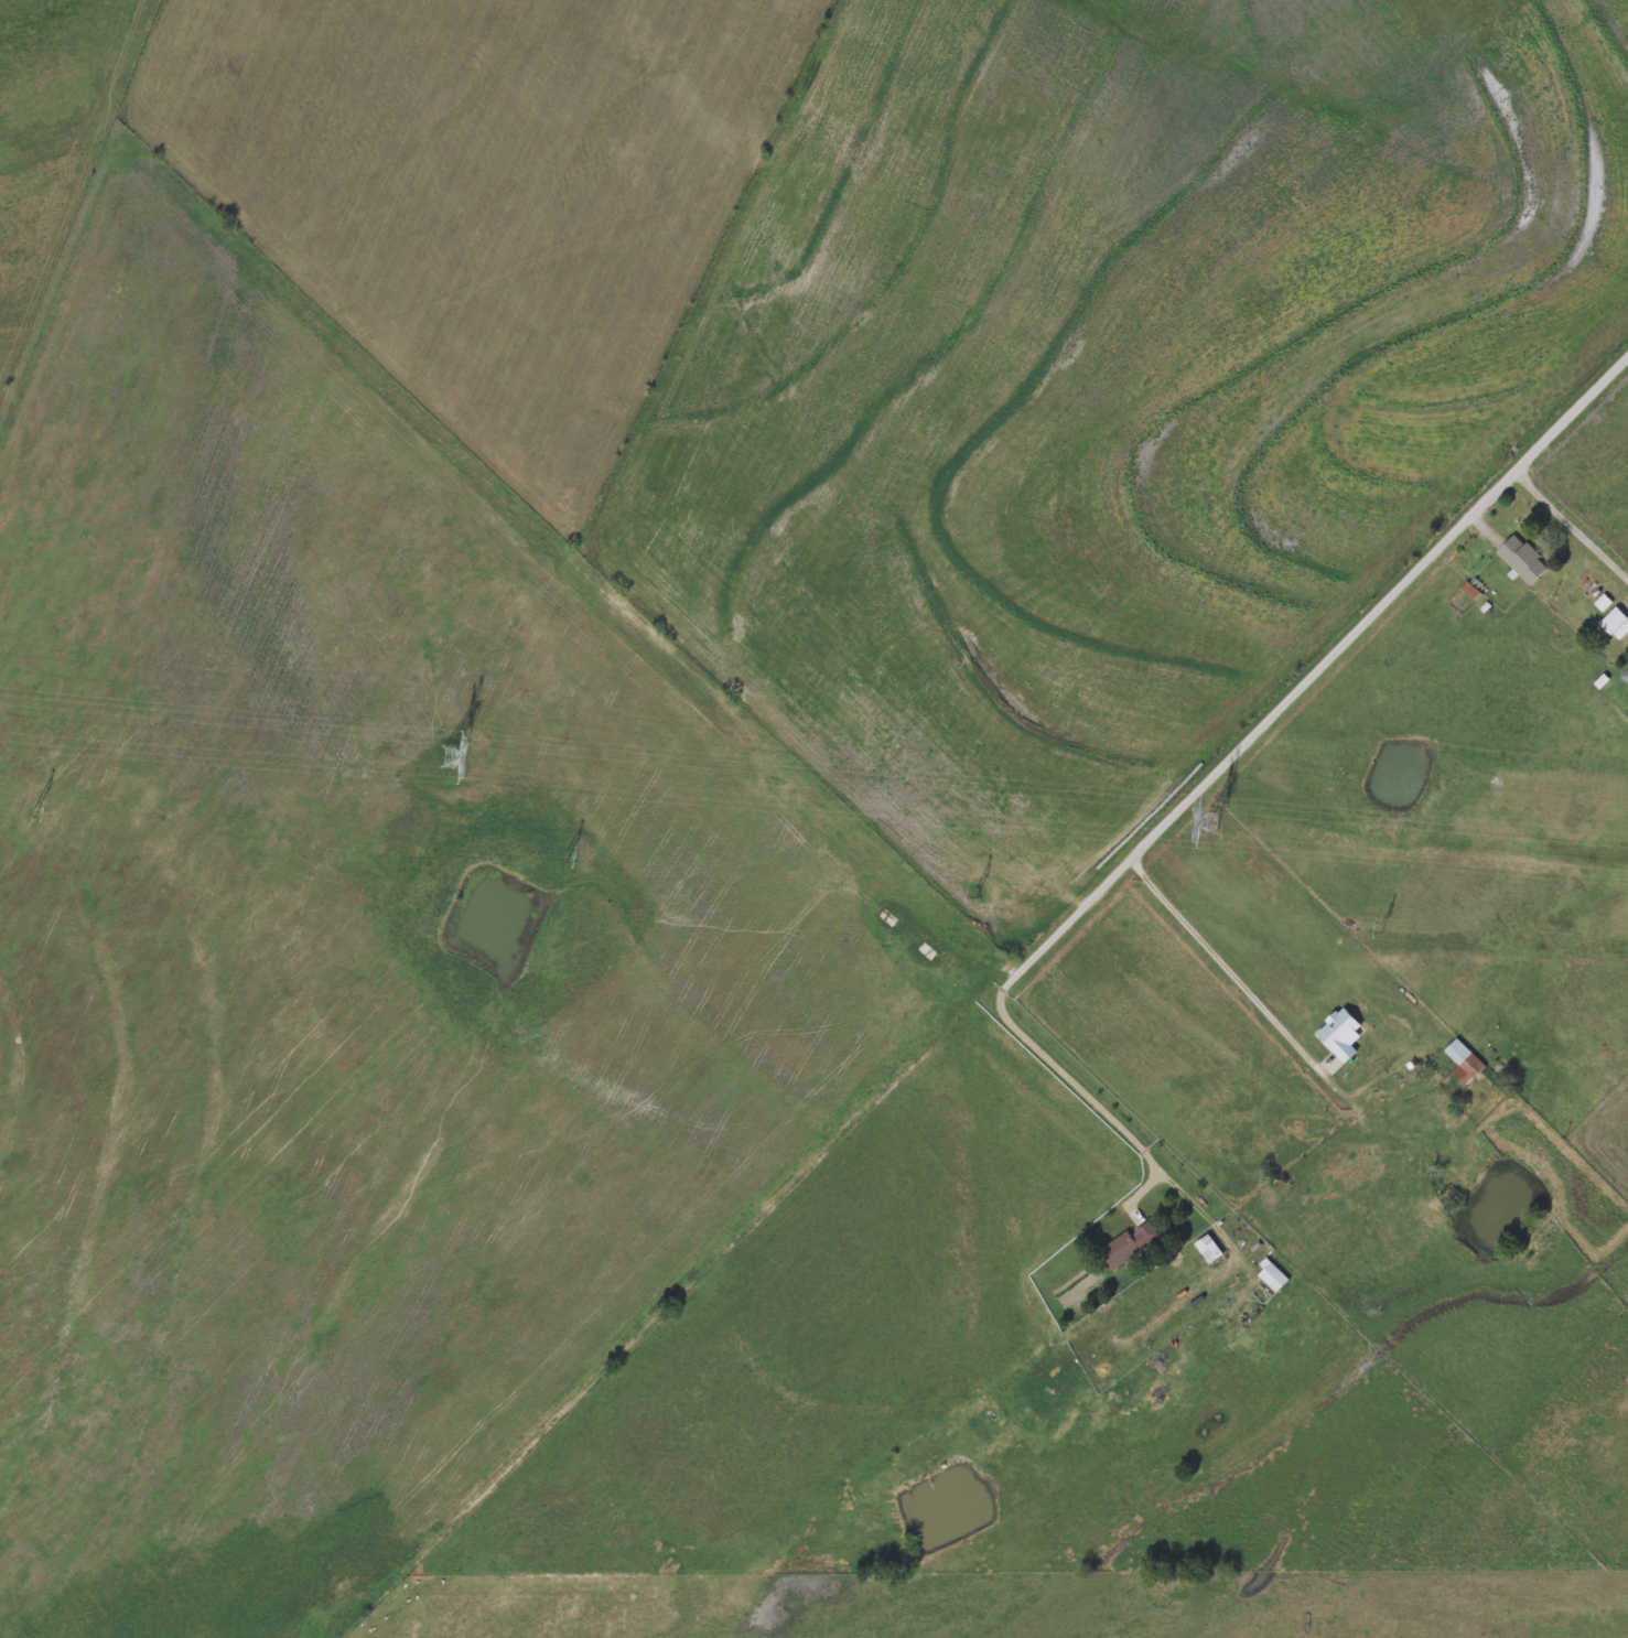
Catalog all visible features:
road: (1572, 525)
building: (1521, 558)
building: (1613, 621)
building: (1625, 673)
power tower: (449, 754)
road: (1210, 776)
power tower: (1214, 822)
road: (1268, 1012)
building: (1464, 1060)
building: (1129, 1243)
building: (1207, 1248)
building: (1271, 1275)

